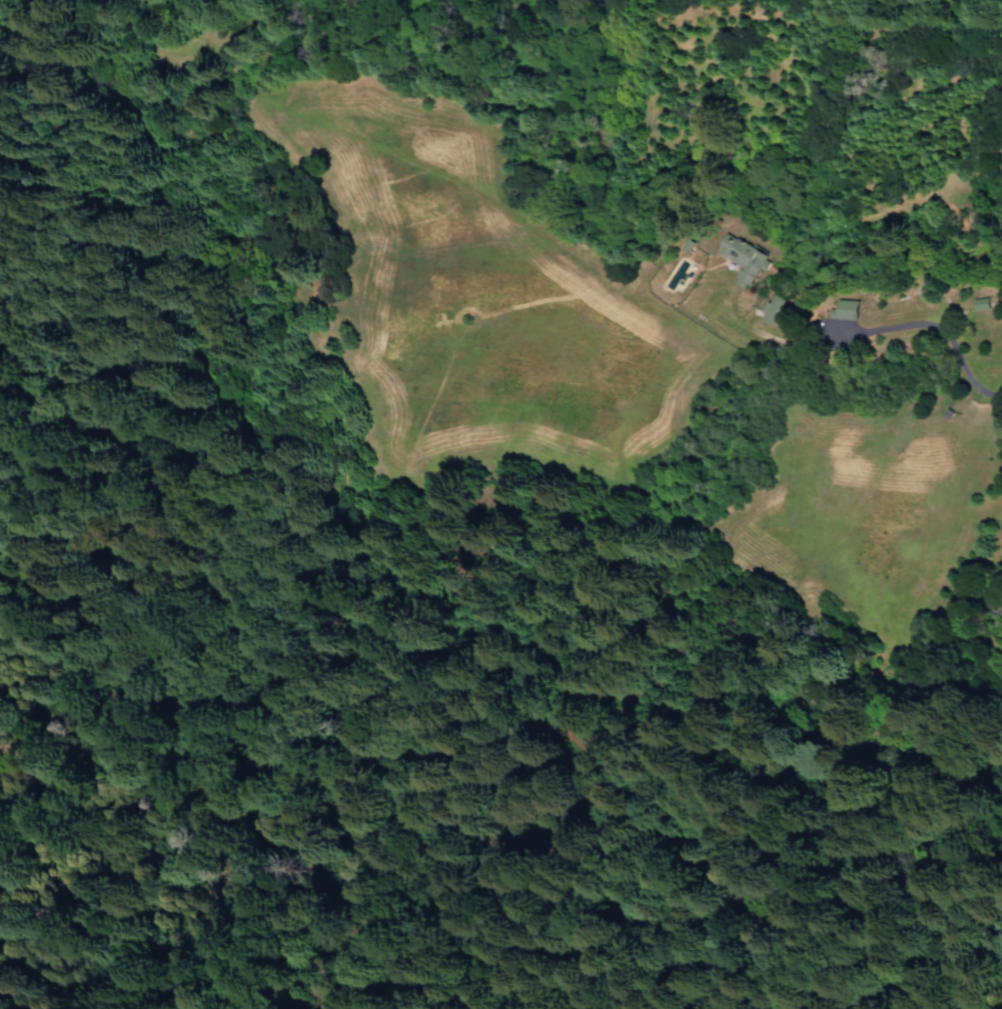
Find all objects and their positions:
building: (743, 259)
building: (980, 304)
building: (772, 310)
building: (846, 310)
road: (938, 328)
road: (509, 722)
road: (921, 768)

